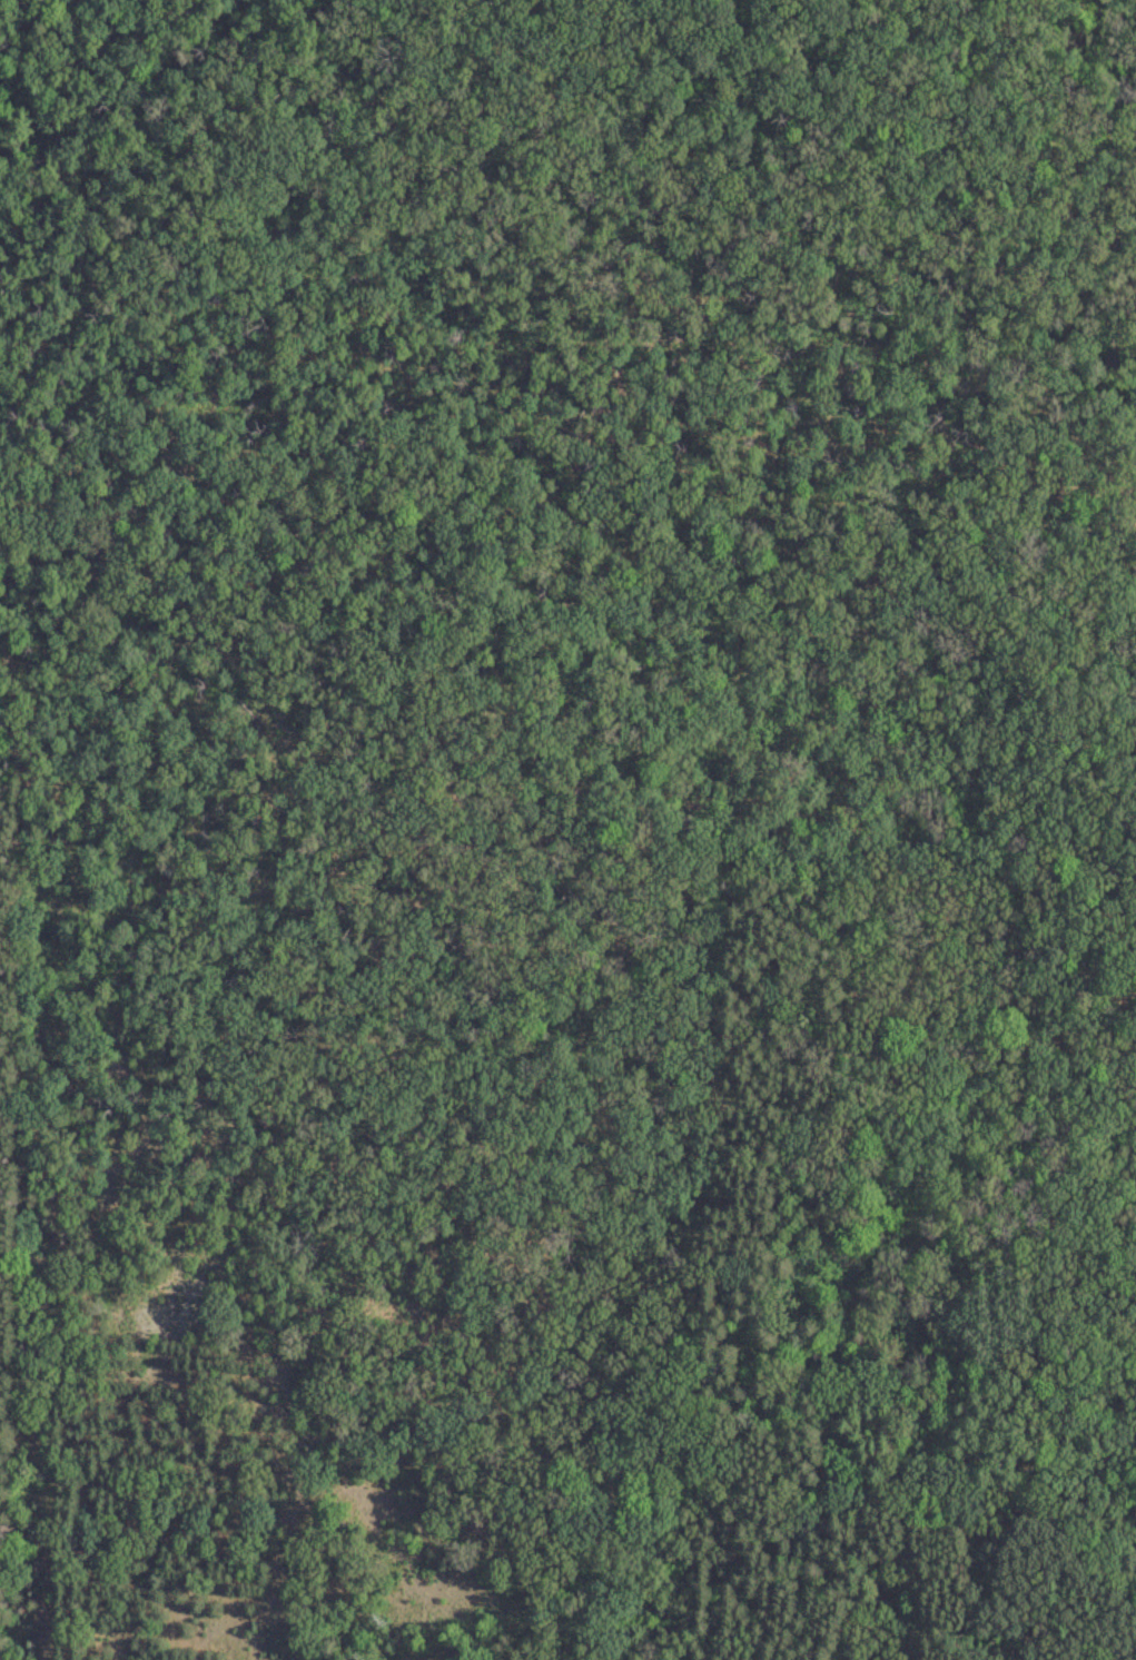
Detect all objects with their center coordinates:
road: (477, 60)

